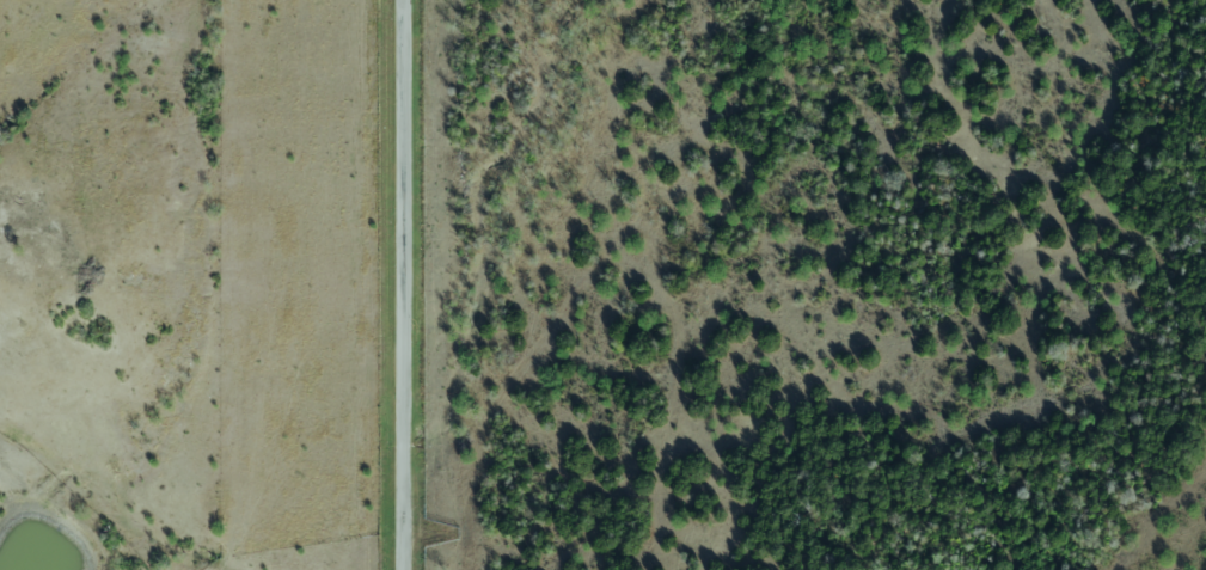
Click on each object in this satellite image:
road: (404, 284)

